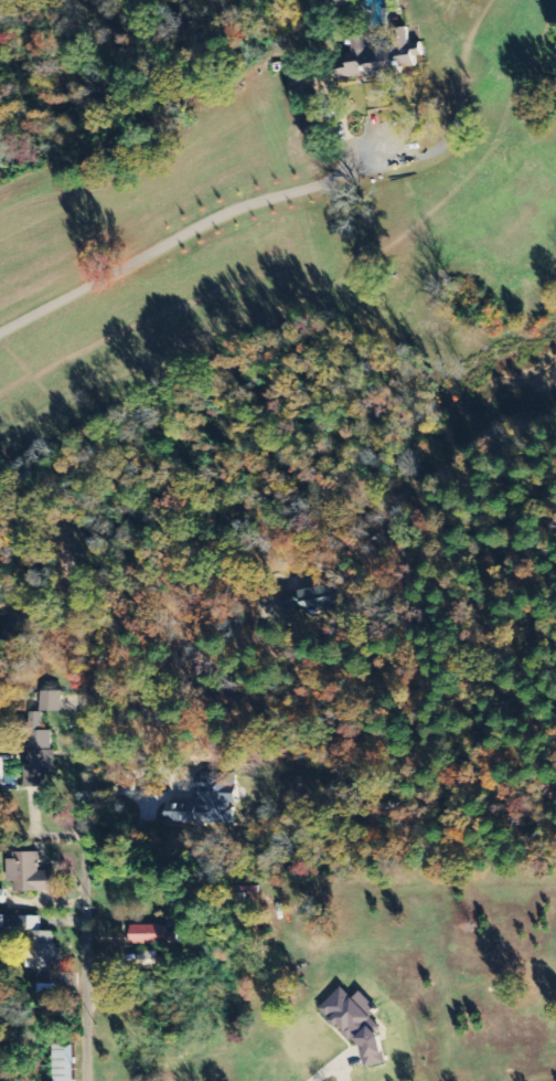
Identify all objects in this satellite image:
building: (381, 57)
road: (189, 226)
building: (304, 600)
building: (39, 761)
building: (205, 804)
building: (29, 873)
building: (149, 935)
building: (36, 948)
road: (79, 961)
building: (356, 1025)
building: (63, 1063)

